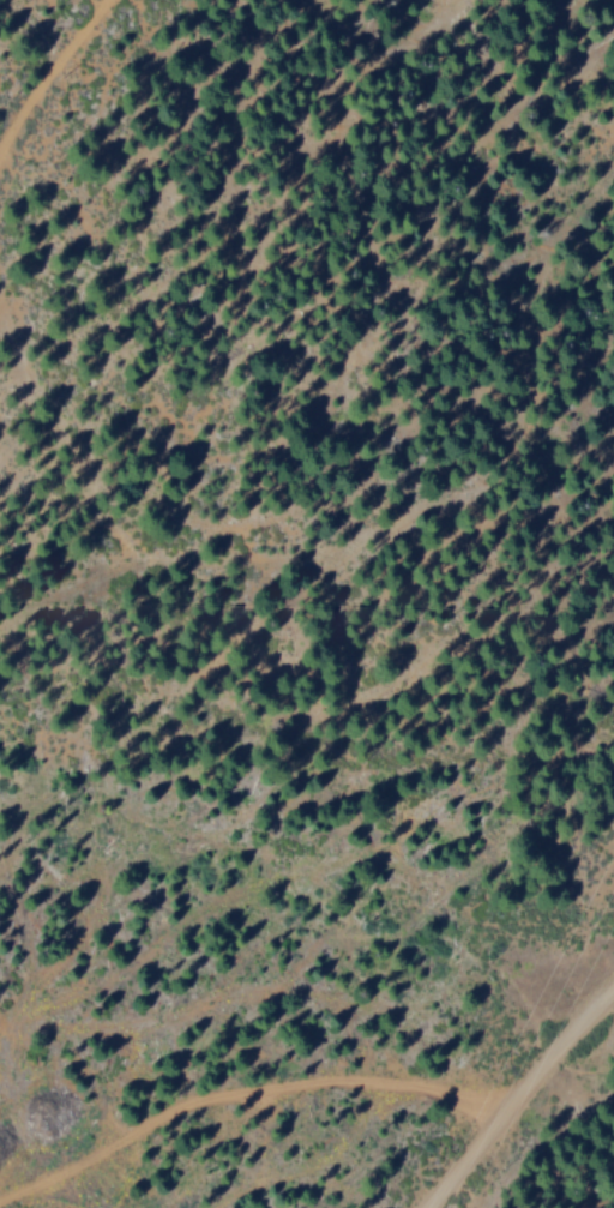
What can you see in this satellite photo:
road: (516, 1095)

